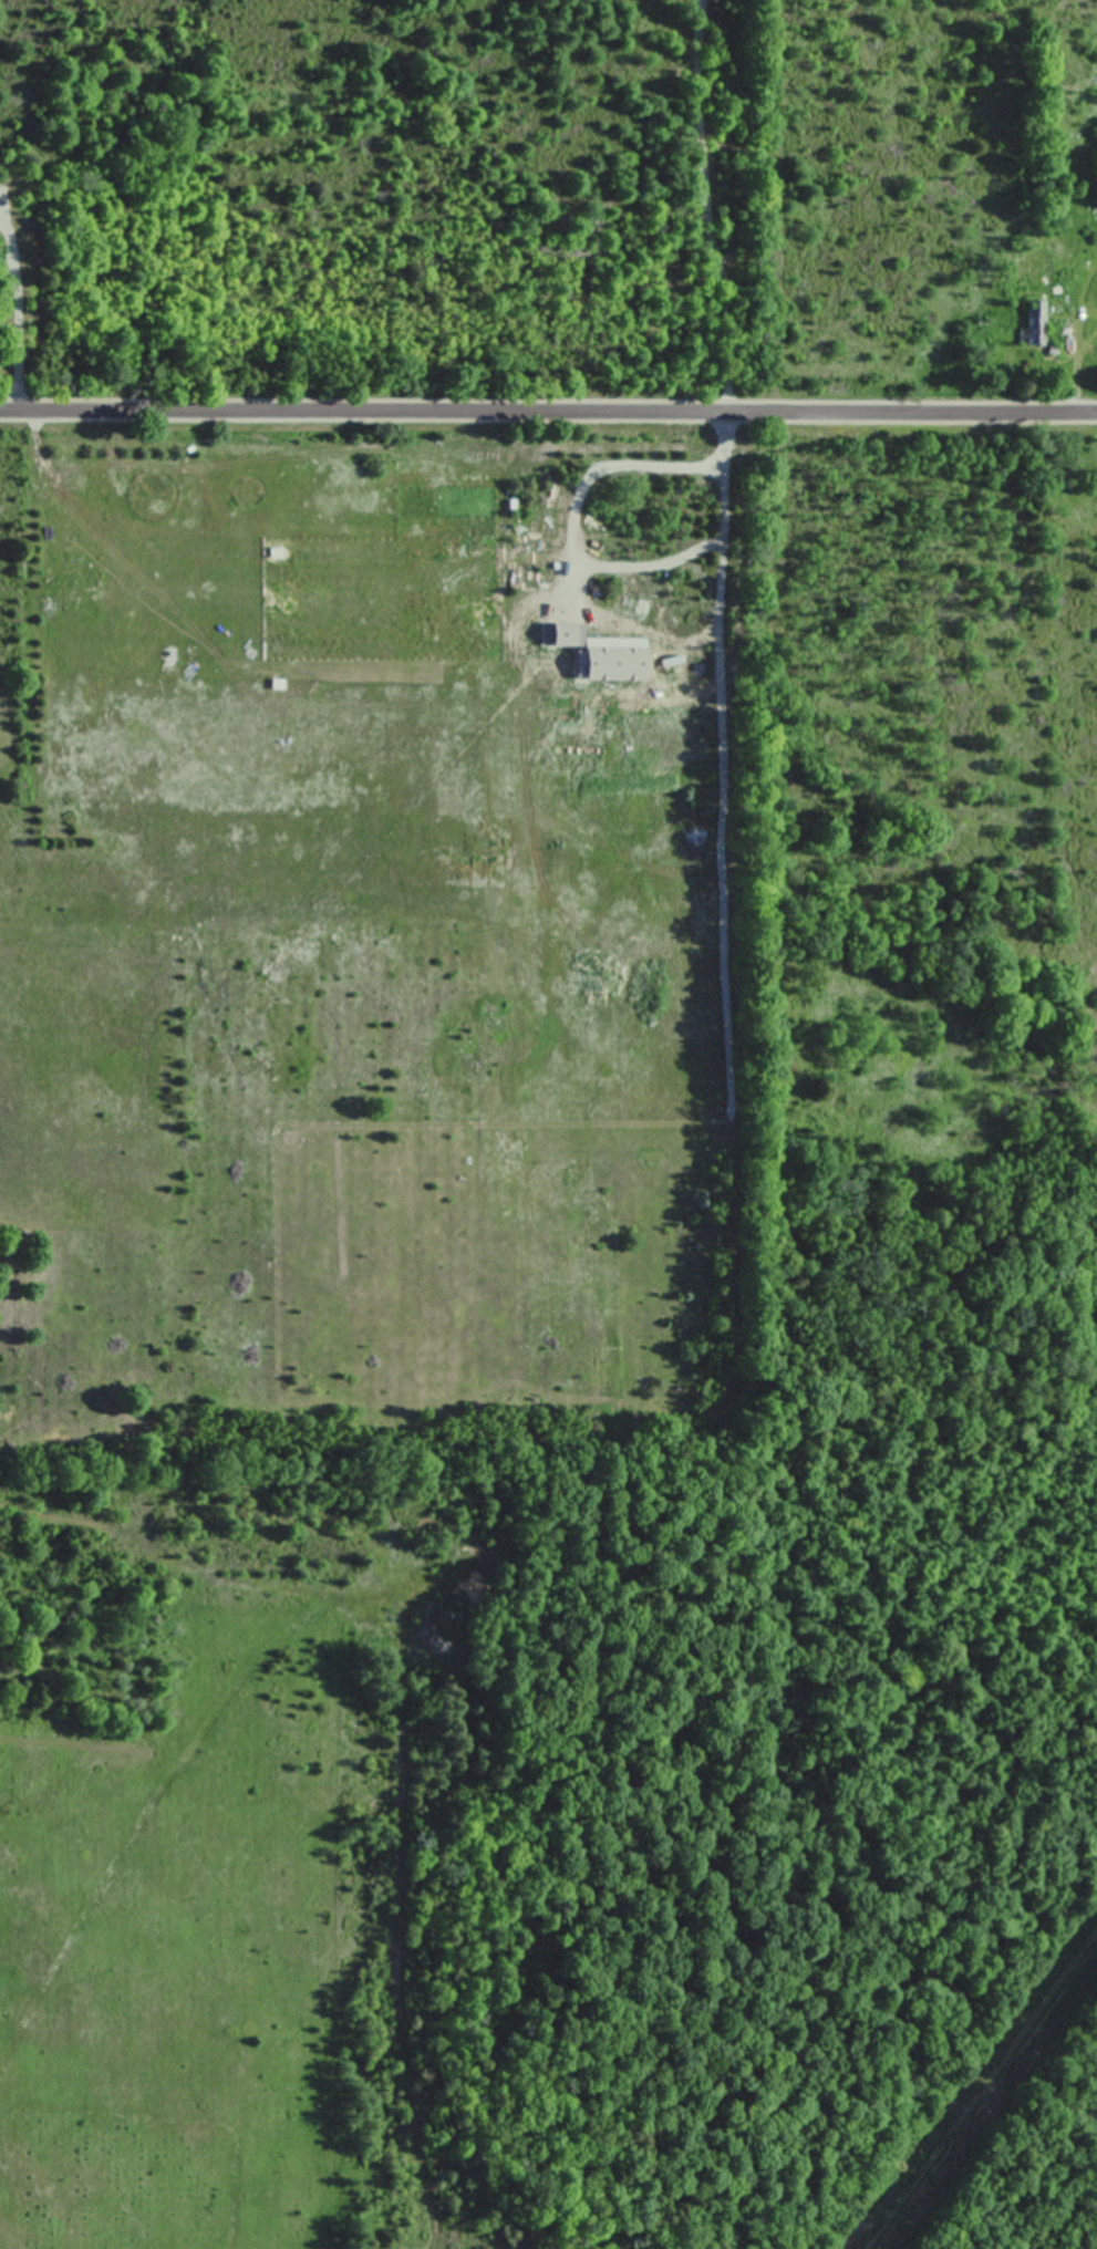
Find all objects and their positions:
road: (707, 206)
road: (19, 315)
building: (1033, 323)
road: (548, 412)
power tower: (980, 2091)

